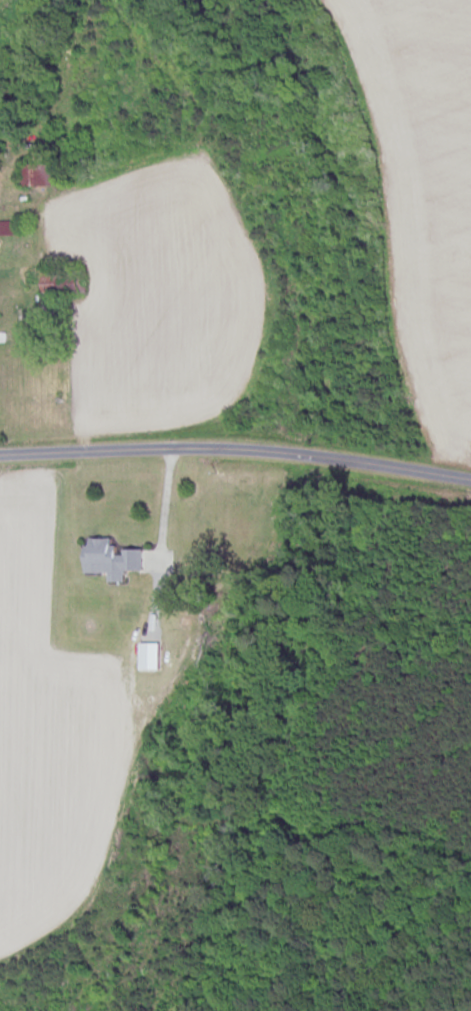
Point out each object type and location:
building: (36, 175)
building: (8, 228)
road: (35, 230)
building: (55, 286)
road: (236, 452)
road: (165, 506)
building: (108, 560)

